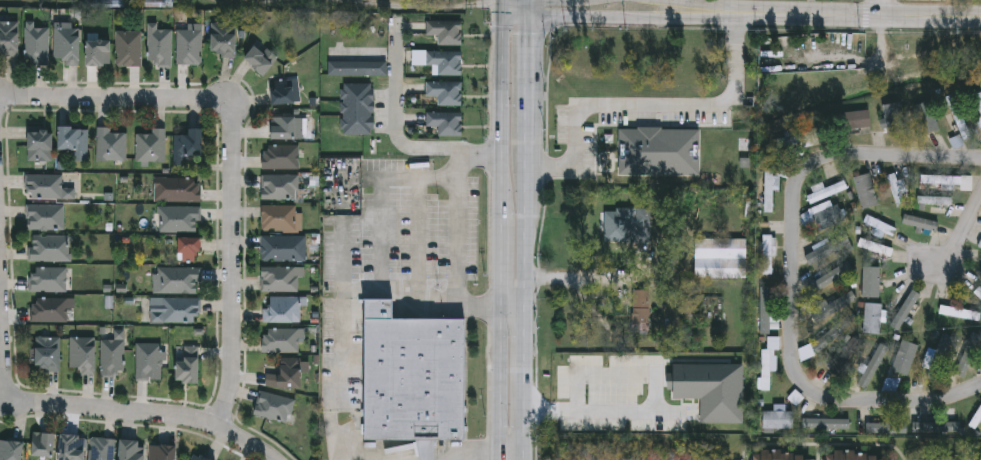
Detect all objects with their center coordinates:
road: (241, 3)
road: (671, 4)
road: (415, 5)
road: (502, 8)
road: (879, 9)
road: (830, 15)
traffic signals: (530, 16)
road: (591, 16)
traffic signals: (502, 17)
building: (445, 30)
building: (9, 37)
building: (224, 37)
building: (67, 42)
building: (36, 43)
building: (159, 44)
building: (189, 44)
building: (128, 48)
building: (98, 51)
building: (260, 59)
building: (445, 61)
building: (349, 68)
road: (502, 69)
building: (445, 91)
building: (284, 92)
building: (978, 102)
road: (115, 103)
road: (650, 104)
building: (356, 107)
road: (0, 109)
building: (893, 117)
building: (925, 117)
road: (395, 119)
building: (855, 119)
building: (957, 120)
building: (445, 122)
building: (286, 127)
building: (808, 138)
building: (74, 140)
building: (190, 141)
building: (40, 143)
building: (111, 144)
building: (151, 145)
building: (280, 156)
road: (883, 157)
road: (500, 170)
building: (944, 180)
building: (45, 186)
building: (280, 186)
building: (182, 189)
building: (768, 189)
building: (895, 189)
building: (864, 190)
building: (825, 191)
building: (931, 204)
building: (45, 216)
building: (279, 217)
building: (179, 218)
building: (919, 221)
building: (616, 225)
building: (878, 225)
road: (454, 227)
road: (528, 229)
road: (960, 231)
building: (978, 238)
building: (821, 245)
building: (874, 246)
building: (283, 247)
building: (767, 247)
building: (50, 248)
building: (190, 249)
building: (876, 256)
building: (721, 258)
road: (500, 262)
road: (229, 266)
building: (978, 266)
building: (828, 275)
building: (885, 275)
building: (48, 278)
building: (279, 278)
road: (578, 278)
building: (888, 278)
building: (177, 279)
building: (863, 279)
road: (368, 288)
building: (978, 292)
road: (514, 304)
building: (832, 306)
building: (50, 309)
building: (175, 309)
building: (282, 309)
building: (641, 311)
building: (955, 311)
road: (792, 313)
building: (766, 314)
building: (871, 317)
building: (905, 317)
building: (827, 336)
building: (281, 340)
road: (2, 353)
building: (48, 353)
building: (83, 353)
building: (964, 353)
building: (112, 356)
building: (903, 356)
building: (931, 357)
building: (149, 361)
building: (767, 362)
building: (838, 362)
building: (871, 362)
building: (189, 364)
building: (286, 374)
building: (413, 374)
road: (499, 381)
building: (916, 383)
building: (889, 384)
road: (658, 403)
road: (918, 403)
building: (275, 406)
building: (776, 417)
building: (820, 418)
building: (976, 418)
road: (143, 420)
building: (933, 421)
building: (883, 428)
building: (43, 444)
building: (72, 446)
building: (101, 448)
building: (11, 449)
building: (131, 450)
road: (491, 450)
building: (162, 452)
building: (781, 455)
building: (855, 455)
building: (199, 457)

